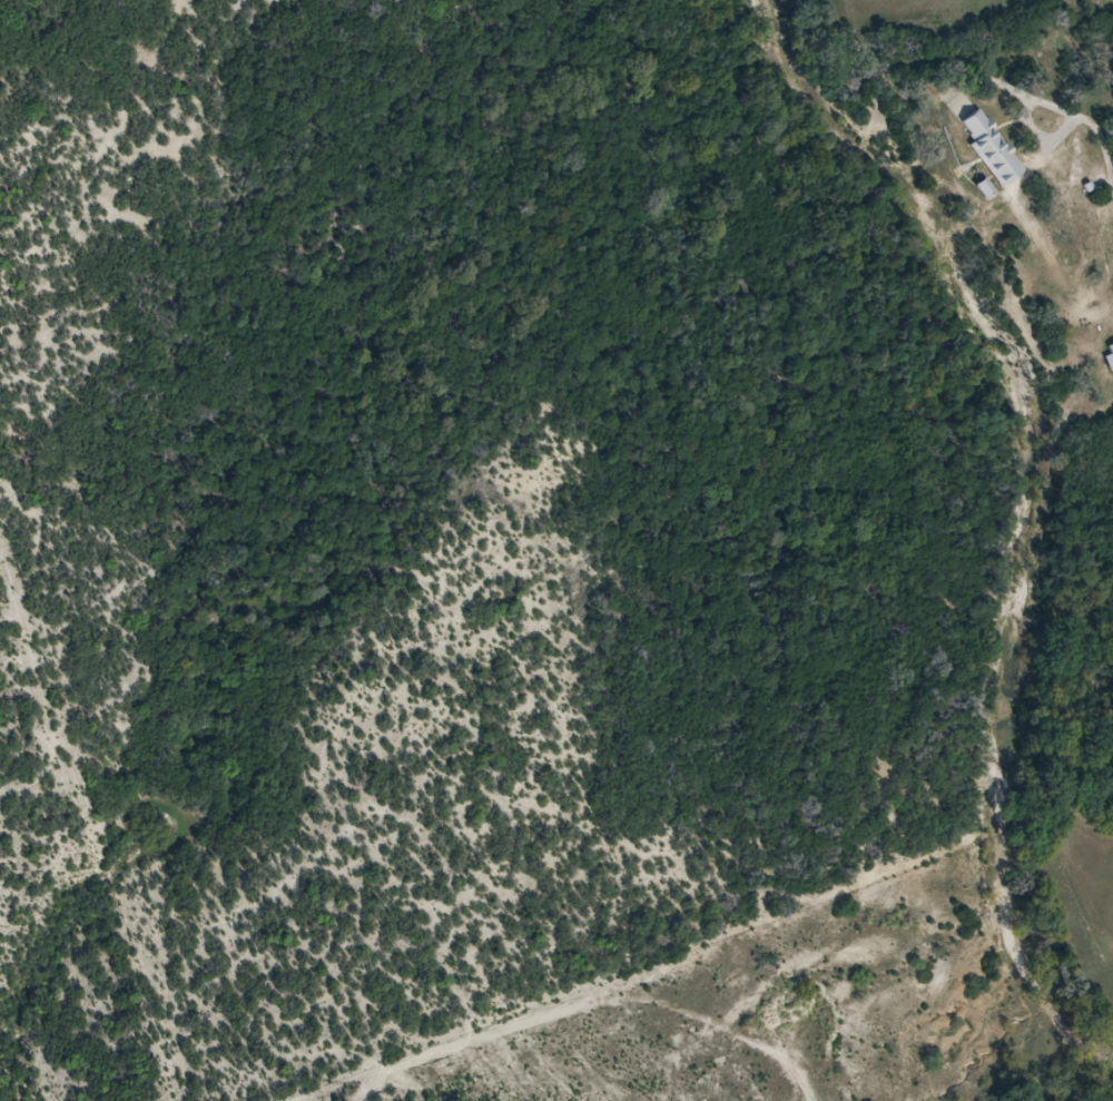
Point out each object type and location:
road: (1092, 119)
building: (995, 150)
building: (1112, 350)

